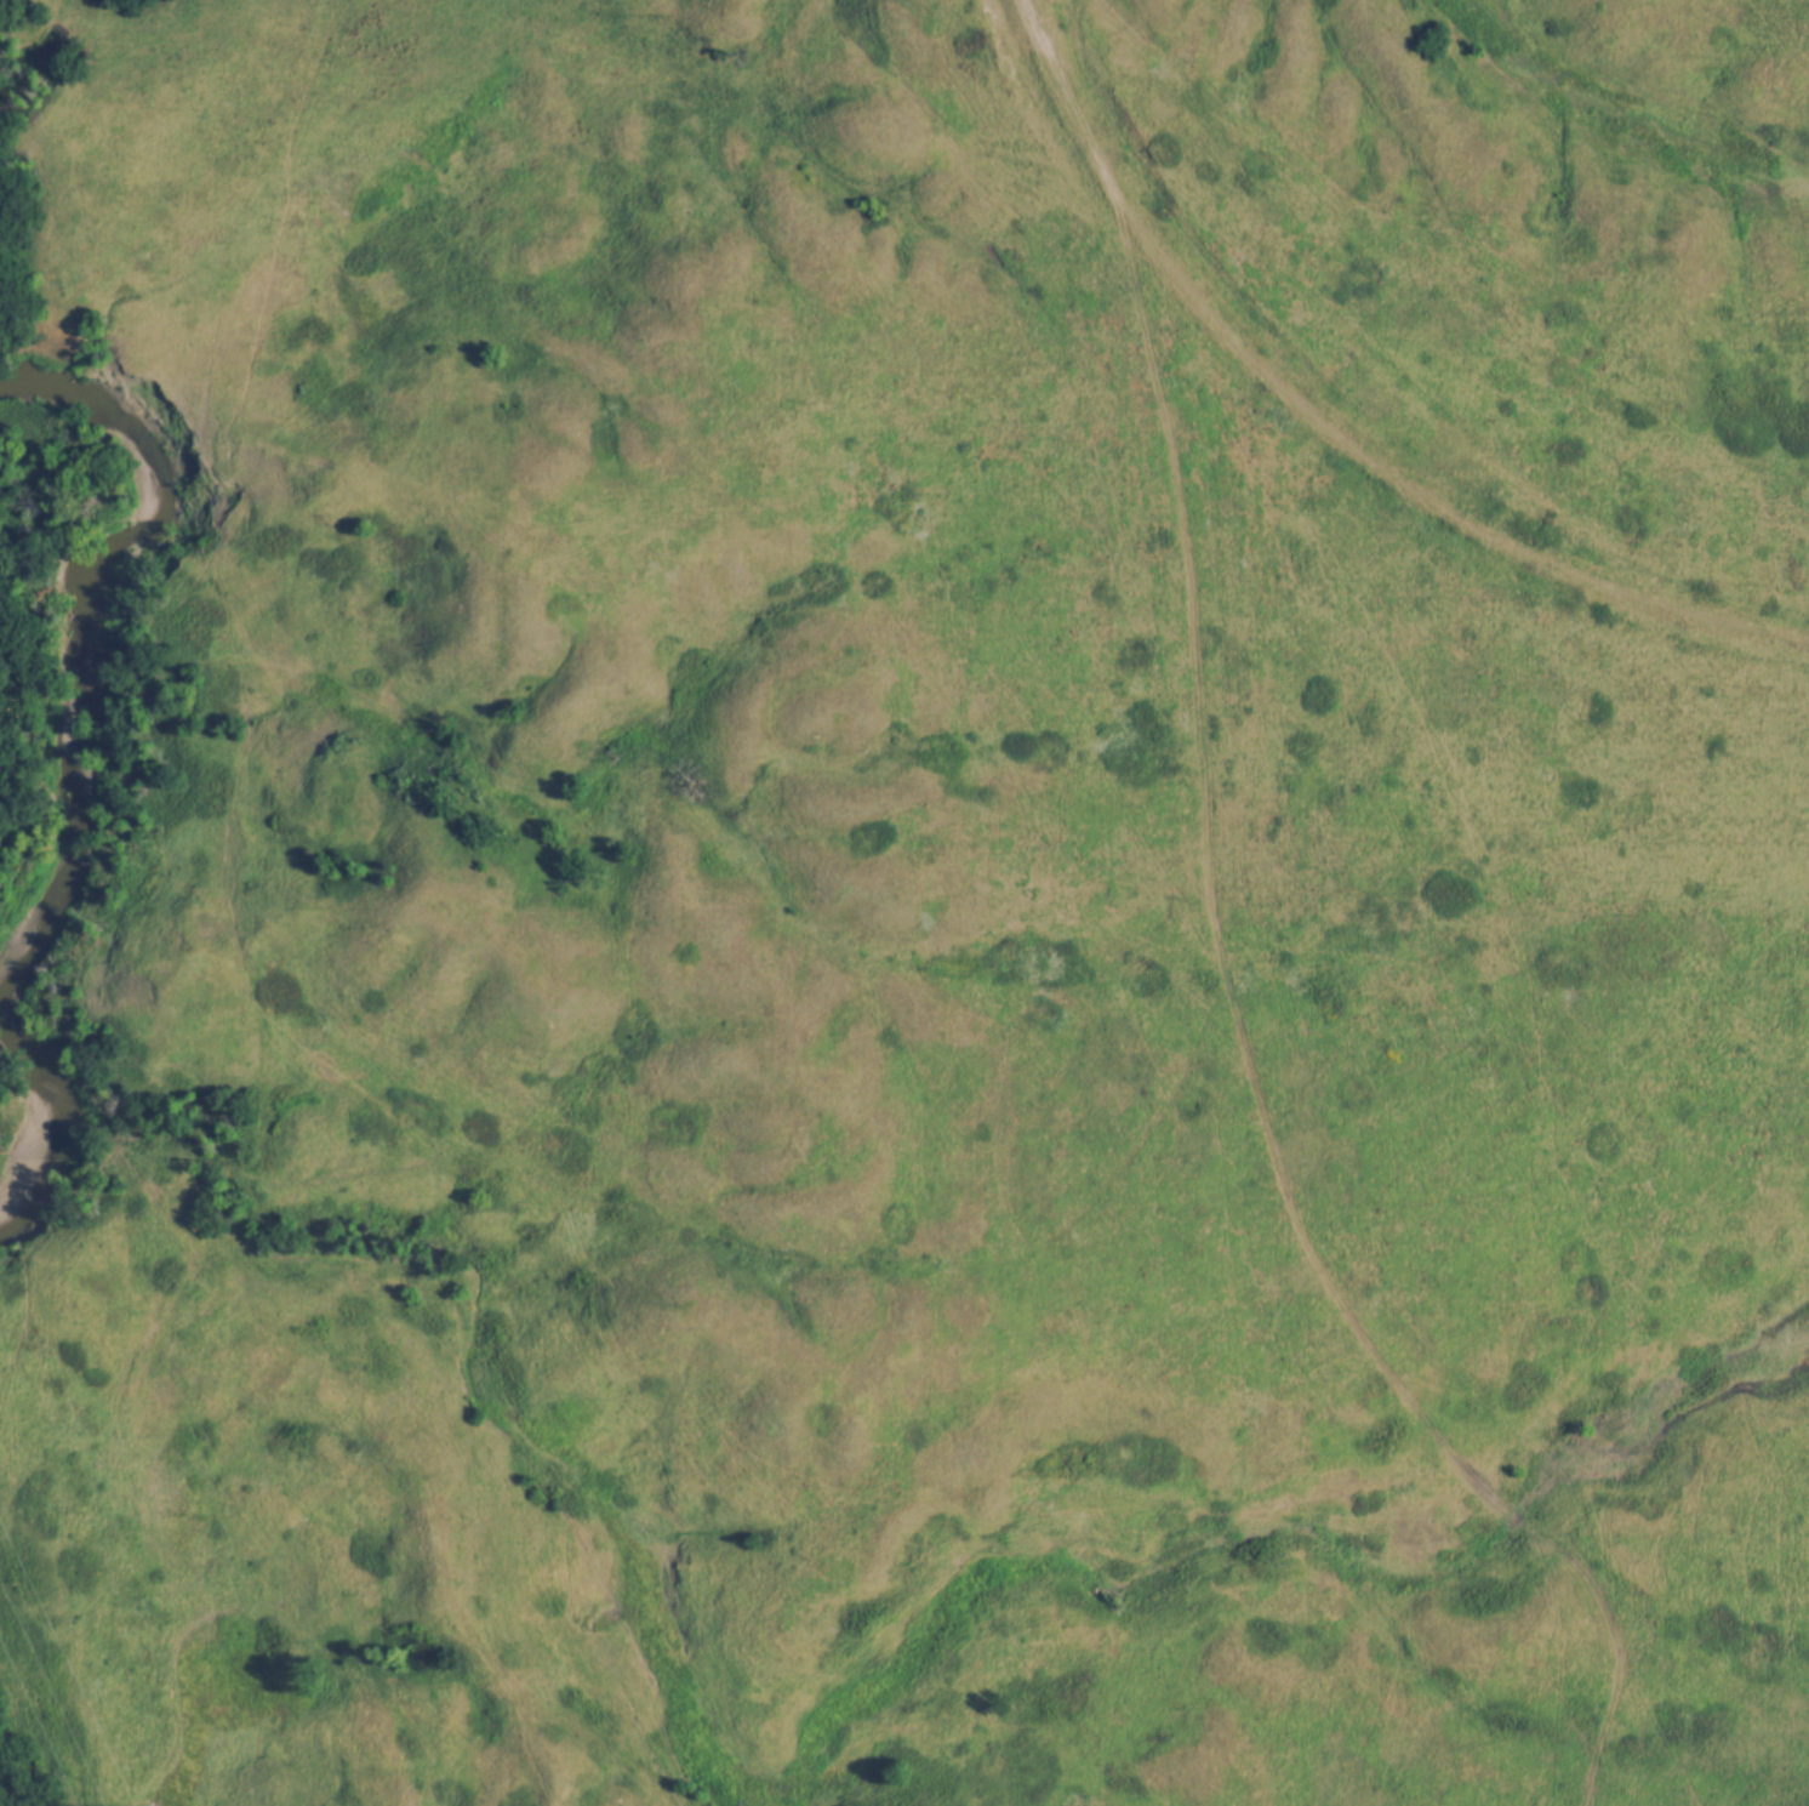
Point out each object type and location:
river: (64, 756)

